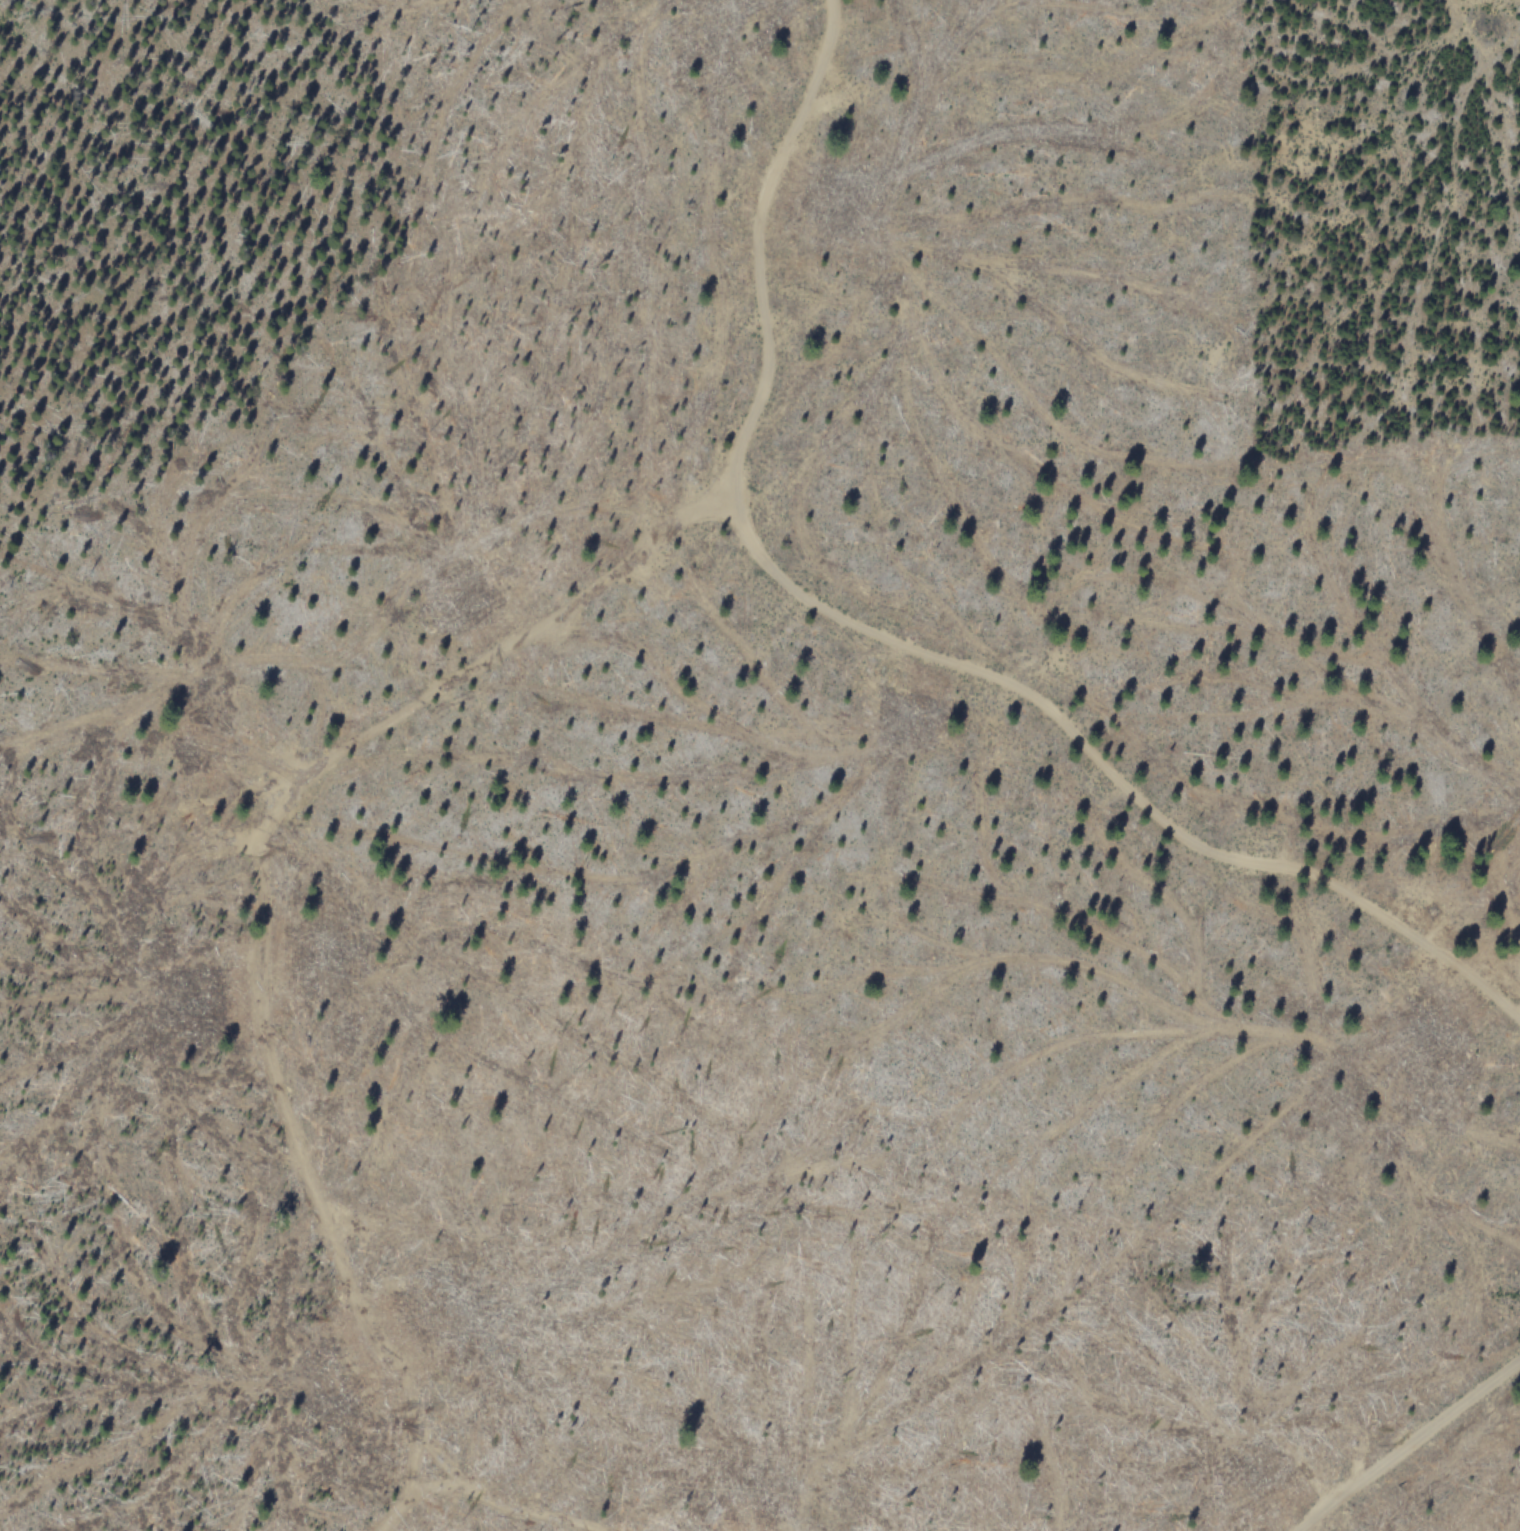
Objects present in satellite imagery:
road: (892, 643)
road: (457, 689)
road: (1411, 1450)

